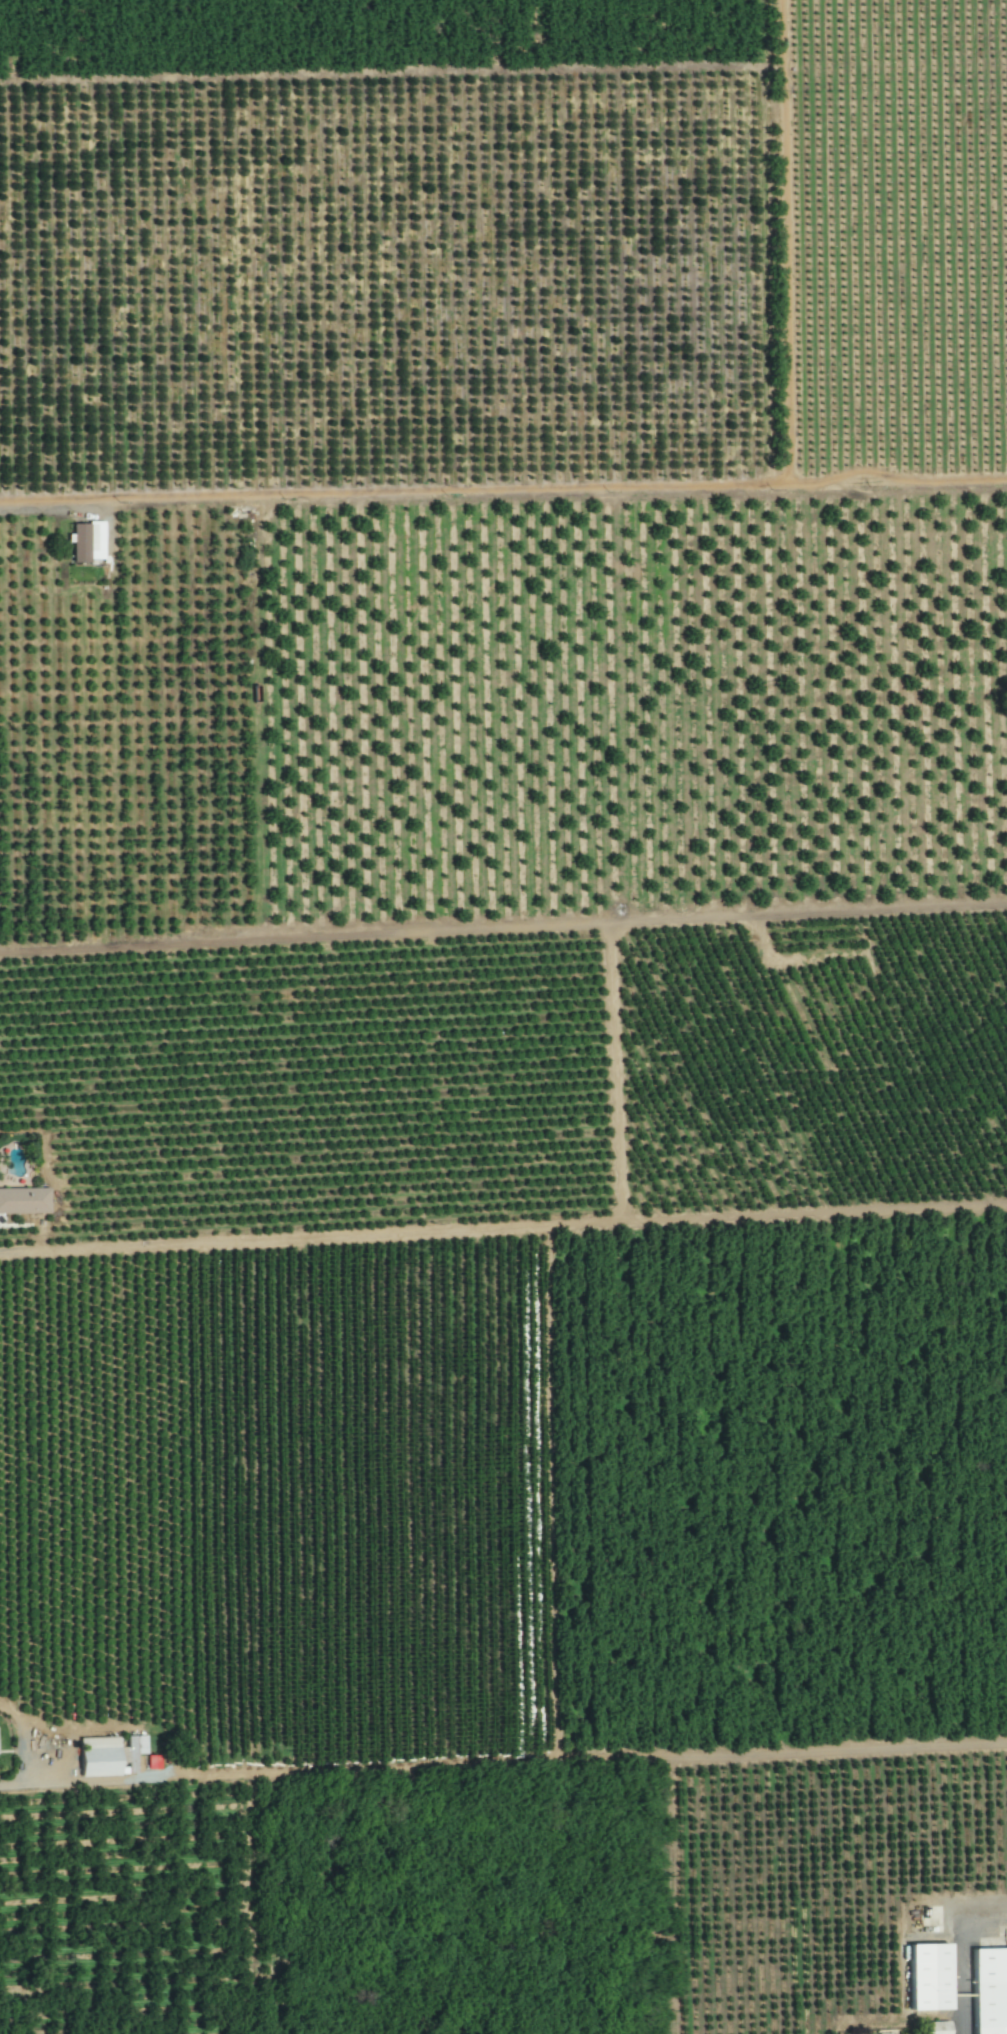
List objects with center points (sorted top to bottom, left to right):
road: (48, 508)
building: (83, 539)
building: (24, 1199)
road: (28, 1251)
building: (110, 1753)
road: (106, 1778)
building: (931, 1974)
building: (990, 1989)
building: (938, 2027)

